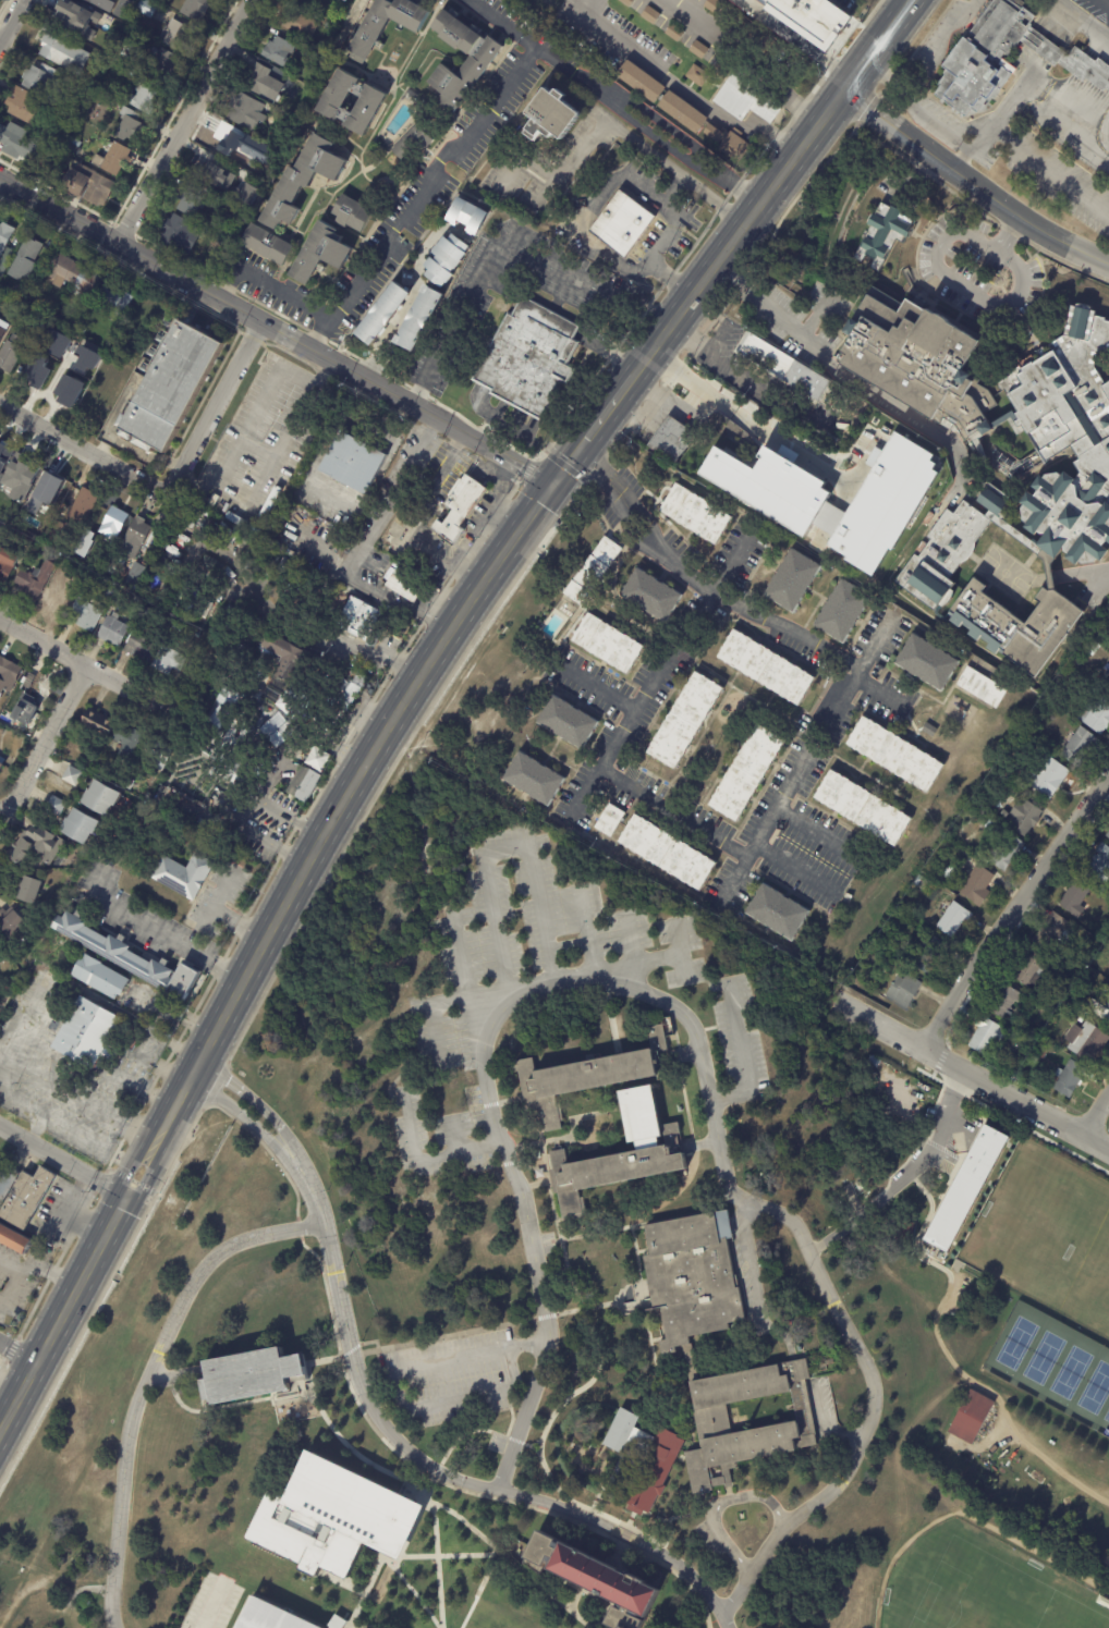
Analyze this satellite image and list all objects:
building: (0, 0)
road: (1107, 1)
building: (306, 2)
building: (626, 2)
building: (356, 3)
building: (100, 4)
building: (712, 5)
building: (145, 8)
building: (195, 9)
building: (327, 12)
building: (119, 15)
building: (650, 15)
road: (1084, 16)
building: (812, 19)
road: (11, 20)
building: (84, 21)
building: (297, 22)
road: (500, 24)
building: (385, 25)
building: (674, 33)
building: (178, 36)
road: (0, 38)
road: (797, 39)
road: (936, 45)
building: (129, 49)
building: (698, 50)
building: (277, 51)
building: (62, 52)
road: (750, 54)
building: (310, 57)
building: (982, 58)
building: (480, 61)
building: (161, 64)
building: (721, 68)
building: (695, 75)
road: (886, 77)
building: (40, 82)
building: (258, 82)
building: (638, 82)
road: (680, 87)
building: (745, 95)
building: (142, 97)
road: (1010, 98)
building: (367, 105)
building: (285, 107)
building: (23, 108)
building: (73, 109)
building: (244, 112)
building: (681, 113)
building: (552, 115)
road: (186, 122)
road: (934, 123)
building: (127, 124)
road: (645, 128)
road: (1083, 134)
building: (54, 138)
building: (17, 143)
building: (728, 144)
road: (968, 144)
building: (230, 145)
building: (411, 145)
building: (69, 146)
building: (58, 155)
road: (573, 155)
building: (111, 160)
road: (1049, 168)
building: (206, 170)
road: (910, 170)
building: (302, 181)
road: (972, 183)
building: (86, 185)
road: (606, 193)
road: (419, 197)
building: (190, 205)
building: (350, 216)
building: (467, 216)
building: (622, 223)
building: (4, 234)
building: (180, 234)
building: (885, 234)
road: (1009, 235)
building: (266, 246)
building: (215, 247)
building: (320, 254)
building: (4, 257)
building: (24, 259)
building: (446, 259)
road: (548, 272)
building: (71, 276)
road: (669, 278)
road: (268, 282)
road: (963, 285)
building: (114, 299)
building: (388, 301)
road: (632, 302)
road: (406, 309)
road: (815, 317)
building: (418, 319)
building: (37, 320)
building: (82, 327)
building: (2, 329)
road: (456, 330)
road: (276, 331)
building: (73, 341)
building: (57, 343)
road: (590, 343)
building: (12, 351)
building: (531, 359)
building: (94, 363)
building: (788, 369)
building: (37, 370)
building: (88, 375)
road: (855, 382)
building: (53, 383)
building: (166, 385)
building: (69, 391)
road: (260, 400)
road: (670, 404)
road: (214, 409)
building: (837, 423)
parking lot: (258, 434)
road: (769, 434)
road: (84, 450)
building: (353, 462)
building: (1007, 462)
building: (12, 466)
road: (438, 479)
building: (935, 480)
traffic signals: (552, 485)
building: (46, 486)
building: (731, 487)
building: (272, 494)
building: (80, 506)
building: (456, 507)
building: (264, 512)
building: (186, 513)
building: (695, 513)
building: (237, 521)
building: (40, 522)
building: (111, 523)
building: (185, 524)
building: (252, 528)
building: (52, 530)
building: (221, 530)
building: (247, 535)
building: (178, 536)
building: (883, 536)
building: (234, 537)
building: (133, 538)
building: (24, 539)
road: (512, 539)
building: (240, 540)
building: (273, 540)
building: (36, 541)
building: (84, 544)
building: (34, 548)
road: (448, 551)
road: (320, 553)
building: (146, 556)
building: (118, 562)
building: (5, 564)
building: (209, 564)
road: (729, 565)
building: (270, 566)
building: (297, 567)
building: (592, 570)
building: (106, 572)
building: (134, 574)
building: (32, 580)
building: (403, 583)
building: (792, 583)
road: (1106, 583)
road: (366, 585)
building: (108, 592)
building: (651, 595)
building: (53, 596)
building: (191, 604)
building: (842, 612)
building: (85, 613)
building: (356, 617)
building: (112, 631)
building: (607, 644)
building: (139, 647)
road: (869, 648)
road: (68, 653)
road: (826, 656)
building: (233, 657)
building: (287, 658)
building: (167, 661)
building: (928, 662)
building: (766, 668)
building: (5, 674)
building: (198, 675)
building: (1106, 676)
building: (25, 681)
road: (875, 685)
road: (600, 686)
building: (982, 687)
building: (345, 694)
railway: (422, 699)
building: (291, 701)
building: (730, 709)
building: (23, 710)
building: (224, 712)
building: (1096, 715)
building: (685, 720)
building: (568, 721)
building: (96, 722)
building: (1, 731)
road: (46, 737)
building: (127, 740)
building: (1082, 749)
road: (612, 752)
building: (895, 755)
building: (158, 756)
building: (317, 759)
building: (1, 761)
building: (746, 772)
building: (70, 775)
building: (534, 779)
building: (1049, 779)
building: (301, 784)
building: (129, 785)
road: (587, 792)
building: (97, 798)
building: (154, 800)
building: (53, 806)
building: (864, 808)
road: (247, 811)
building: (1003, 813)
building: (1024, 817)
building: (609, 820)
building: (77, 825)
road: (809, 825)
building: (990, 827)
building: (1107, 835)
building: (946, 841)
building: (36, 845)
road: (500, 849)
building: (1006, 852)
building: (667, 853)
building: (985, 861)
building: (1100, 864)
road: (735, 874)
building: (182, 876)
building: (918, 882)
building: (976, 885)
building: (924, 889)
building: (25, 891)
building: (911, 896)
building: (1074, 898)
road: (1011, 909)
building: (778, 913)
building: (952, 919)
building: (8, 923)
road: (162, 933)
building: (1052, 933)
road: (588, 935)
road: (627, 940)
building: (931, 955)
building: (127, 956)
road: (658, 958)
building: (1071, 965)
road: (681, 966)
building: (1032, 969)
road: (463, 972)
building: (99, 976)
building: (1067, 980)
building: (902, 989)
building: (1003, 1001)
building: (1099, 1011)
road: (430, 1016)
road: (686, 1023)
building: (857, 1028)
building: (87, 1031)
building: (986, 1036)
building: (1032, 1036)
building: (1086, 1041)
building: (1041, 1053)
road: (742, 1058)
building: (1034, 1060)
road: (977, 1078)
building: (1071, 1078)
building: (581, 1080)
building: (904, 1090)
road: (257, 1104)
road: (1096, 1112)
road: (245, 1118)
road: (266, 1146)
road: (412, 1149)
road: (463, 1149)
road: (148, 1154)
road: (63, 1159)
building: (0, 1160)
building: (617, 1167)
road: (909, 1179)
building: (970, 1187)
building: (23, 1196)
road: (300, 1226)
road: (558, 1226)
road: (600, 1233)
park: (1047, 1237)
building: (14, 1238)
road: (8, 1263)
road: (48, 1270)
building: (692, 1277)
road: (12, 1286)
road: (588, 1307)
road: (62, 1311)
road: (546, 1314)
road: (448, 1334)
road: (371, 1339)
road: (350, 1348)
road: (17, 1352)
park: (1052, 1366)
building: (251, 1374)
road: (145, 1378)
parking lot: (448, 1378)
road: (398, 1385)
building: (747, 1420)
building: (973, 1420)
road: (545, 1429)
road: (465, 1431)
building: (625, 1434)
road: (515, 1439)
road: (527, 1443)
road: (353, 1448)
road: (435, 1468)
road: (438, 1469)
building: (651, 1470)
road: (431, 1483)
road: (452, 1488)
road: (719, 1505)
building: (332, 1518)
road: (623, 1534)
road: (444, 1553)
road: (513, 1563)
road: (596, 1575)
building: (594, 1579)
road: (51, 1583)
road: (478, 1588)
park: (979, 1588)
road: (412, 1592)
parking lot: (212, 1602)
road: (211, 1604)
road: (355, 1612)
building: (269, 1616)
building: (488, 1621)

